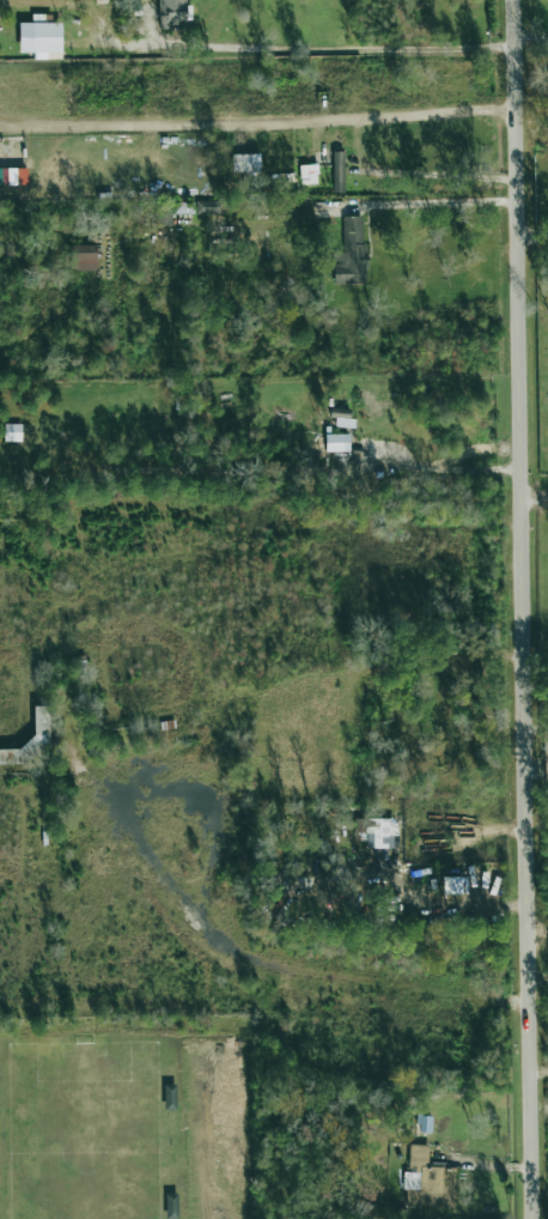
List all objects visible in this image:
building: (171, 11)
road: (532, 37)
building: (41, 40)
road: (331, 53)
road: (260, 125)
building: (244, 163)
building: (337, 171)
building: (308, 174)
building: (12, 176)
road: (451, 202)
building: (206, 207)
road: (532, 236)
building: (351, 253)
building: (83, 257)
building: (12, 432)
building: (336, 442)
road: (444, 469)
road: (534, 493)
road: (522, 609)
building: (379, 833)
building: (455, 885)
building: (169, 1097)
park: (80, 1132)
building: (428, 1178)

